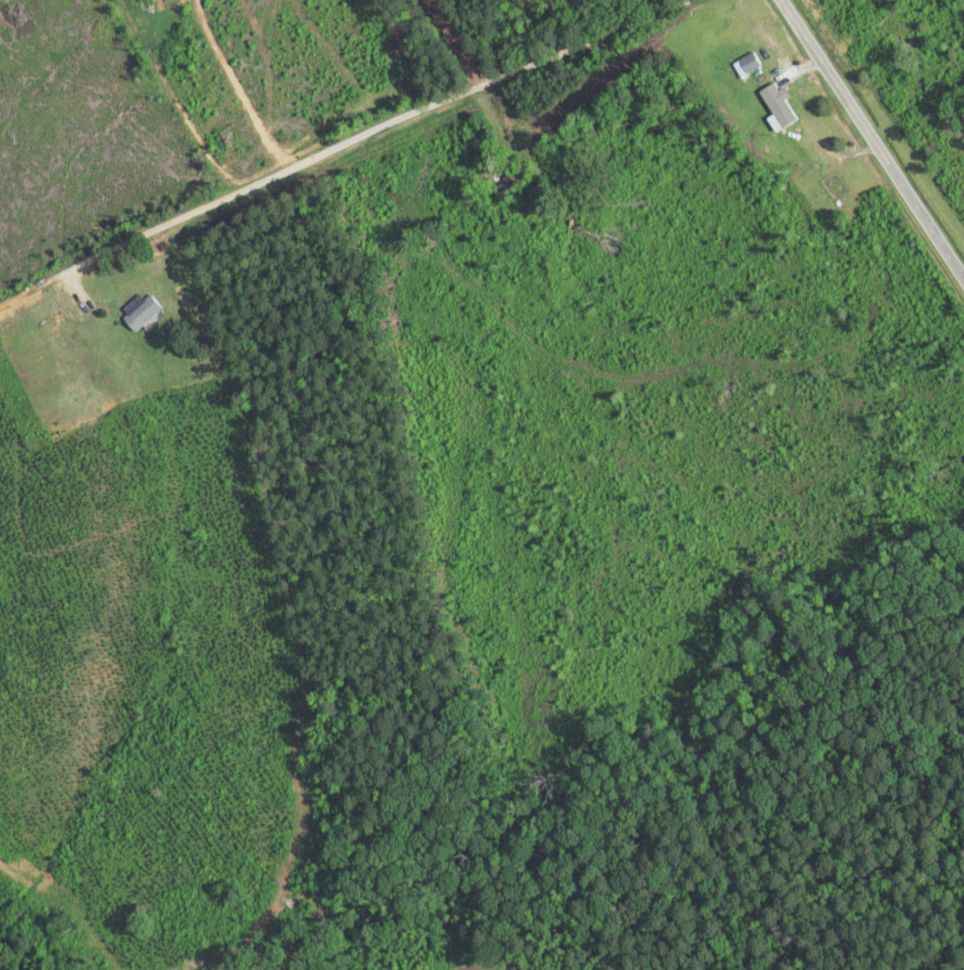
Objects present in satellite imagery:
building: (750, 63)
building: (781, 113)
road: (370, 133)
road: (874, 134)
building: (835, 189)
building: (144, 314)

